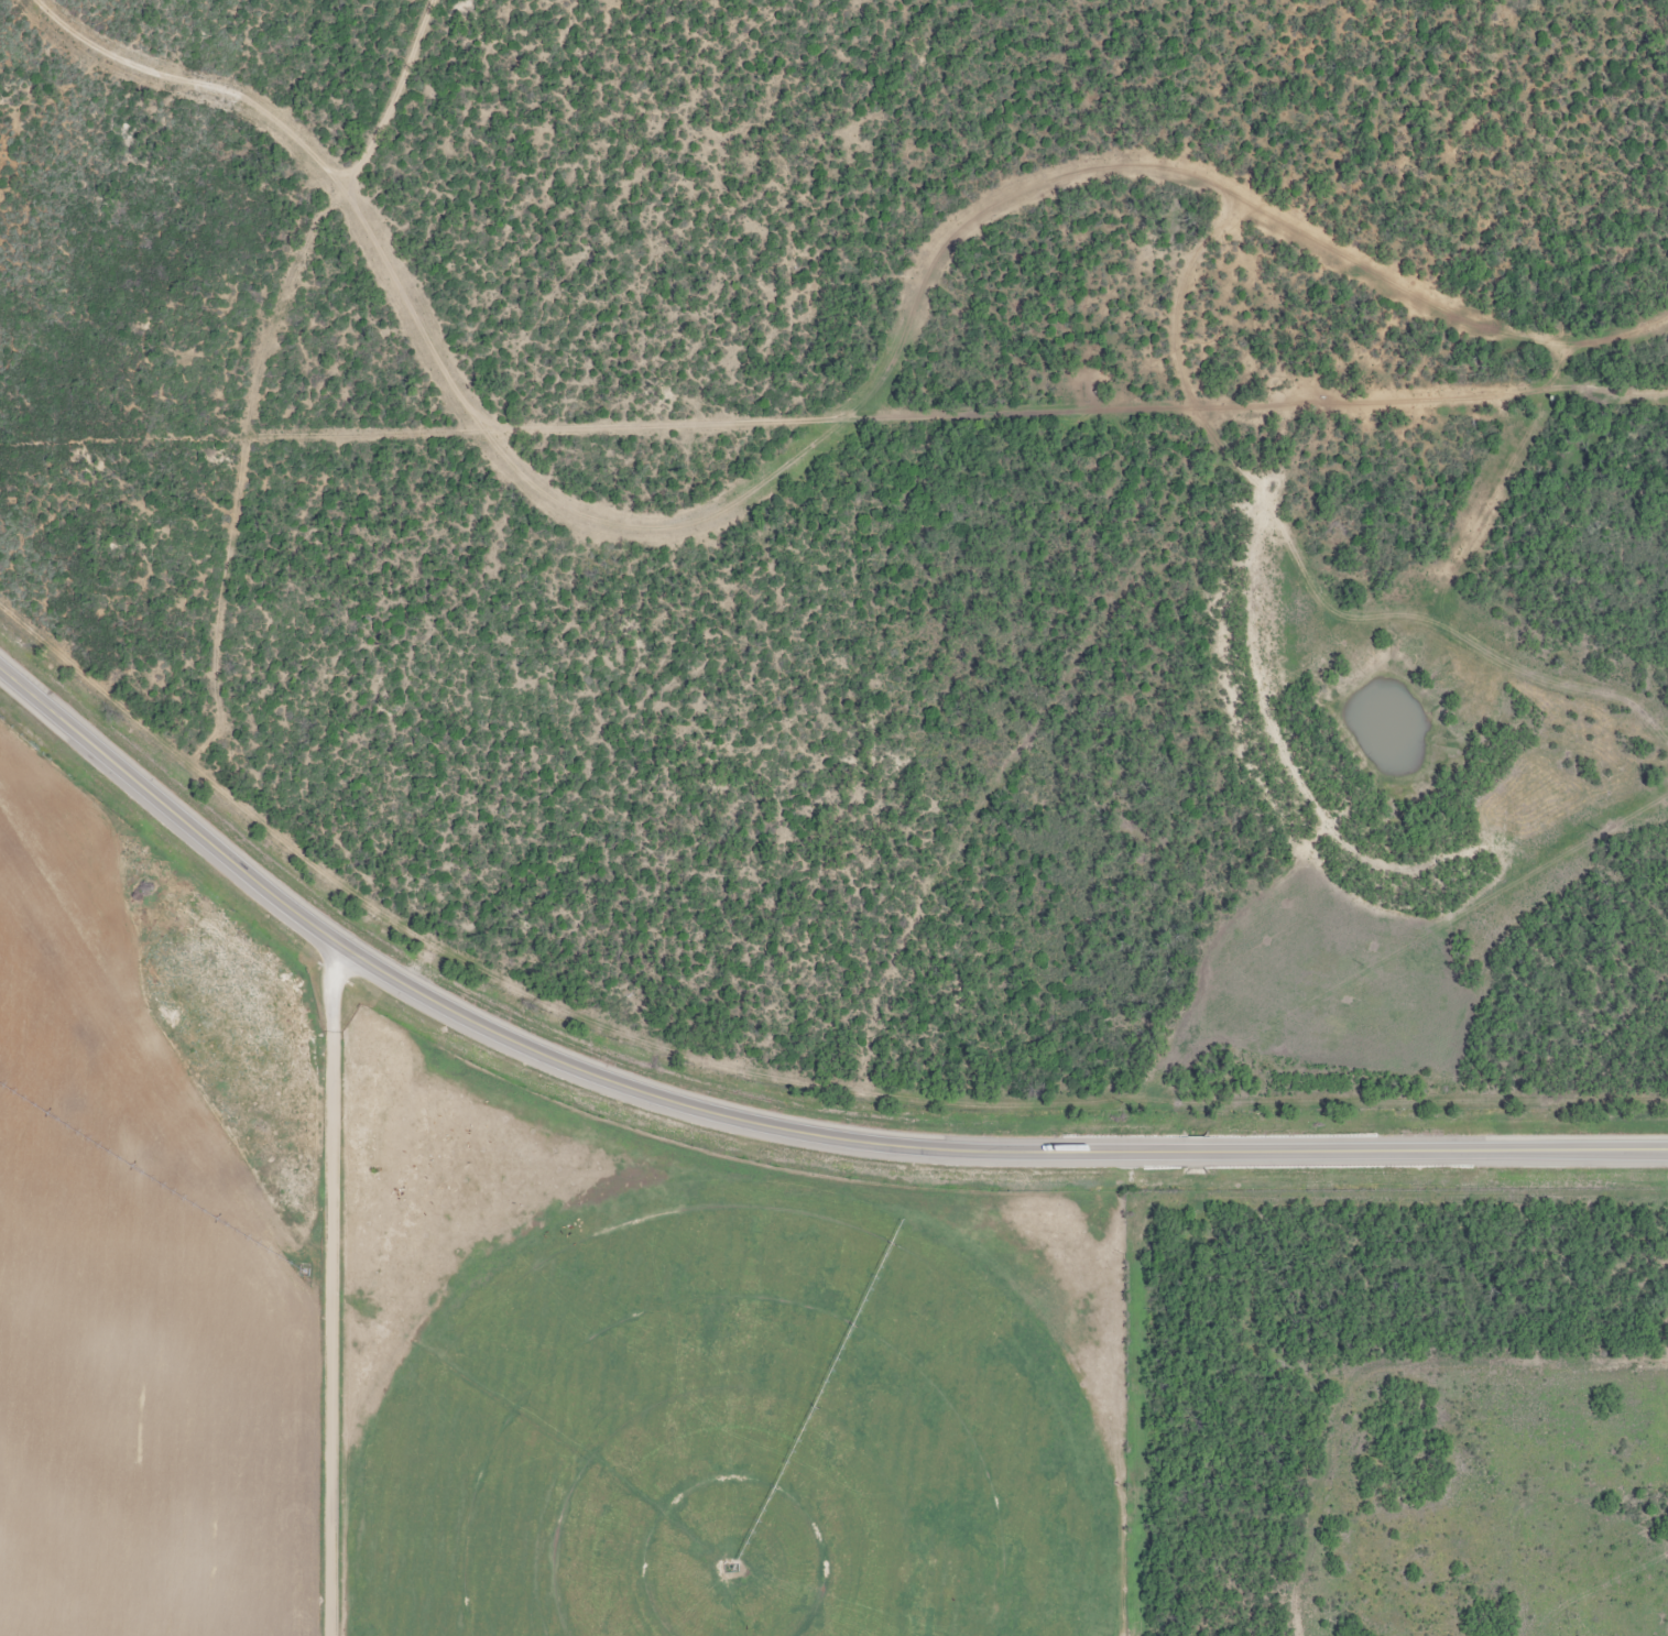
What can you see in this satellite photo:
road: (978, 293)
road: (1444, 332)
road: (266, 410)
road: (763, 1136)
road: (331, 1287)
road: (1134, 1406)

